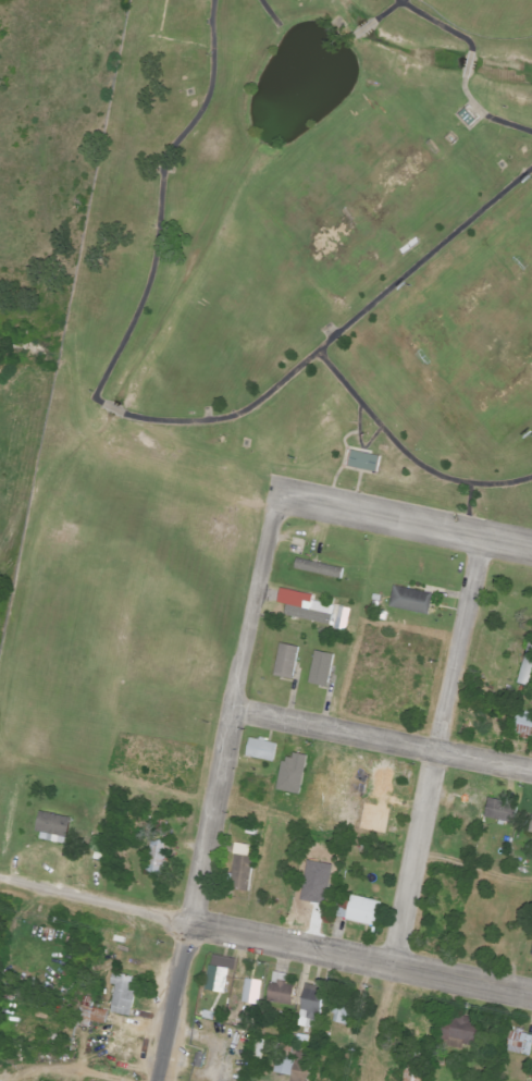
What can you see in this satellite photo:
road: (267, 13)
park: (486, 17)
road: (374, 20)
road: (465, 69)
park: (362, 202)
park: (514, 254)
park: (234, 342)
park: (473, 352)
road: (139, 421)
road: (357, 428)
road: (369, 440)
road: (356, 450)
road: (405, 455)
building: (359, 460)
road: (341, 467)
road: (355, 471)
road: (356, 482)
road: (466, 511)
parking lot: (397, 520)
road: (404, 524)
building: (322, 569)
building: (413, 601)
building: (323, 615)
building: (289, 662)
building: (324, 670)
building: (524, 722)
road: (382, 740)
building: (265, 750)
road: (434, 756)
building: (295, 774)
road: (216, 789)
building: (504, 811)
building: (57, 828)
building: (160, 858)
building: (245, 870)
building: (318, 881)
building: (367, 911)
road: (264, 944)
building: (221, 980)
building: (253, 992)
building: (126, 995)
building: (313, 1007)
building: (95, 1015)
building: (343, 1016)
building: (462, 1030)
building: (520, 1043)
building: (296, 1067)
building: (416, 1073)

